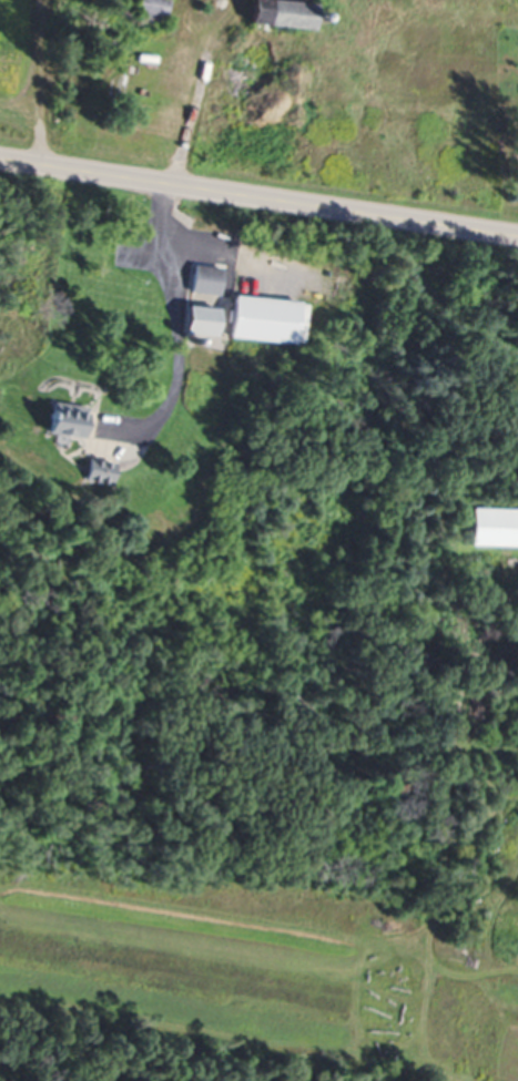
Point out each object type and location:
building: (153, 10)
building: (286, 13)
road: (204, 90)
road: (258, 193)
building: (207, 279)
building: (266, 318)
building: (204, 319)
road: (186, 325)
building: (68, 418)
building: (100, 470)
building: (495, 527)

